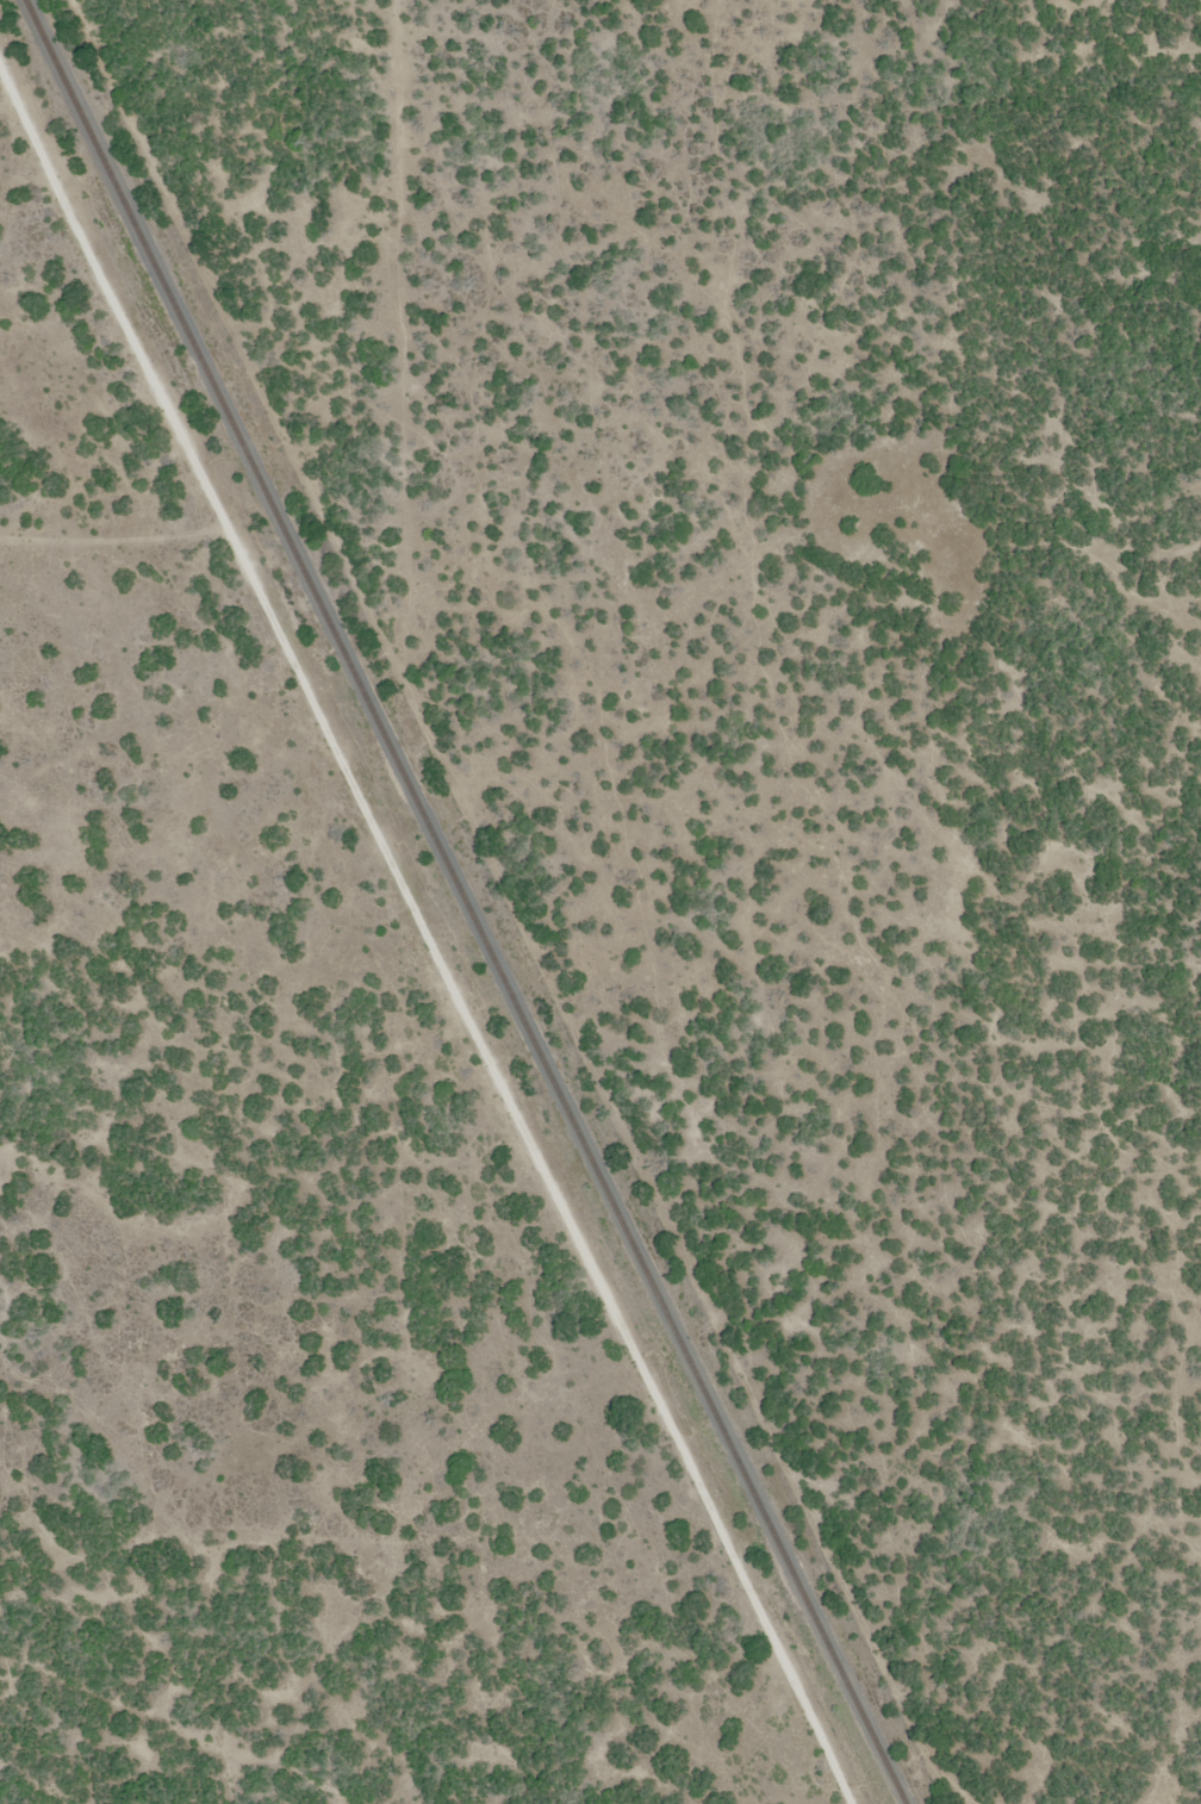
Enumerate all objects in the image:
railway: (468, 902)
road: (422, 953)

